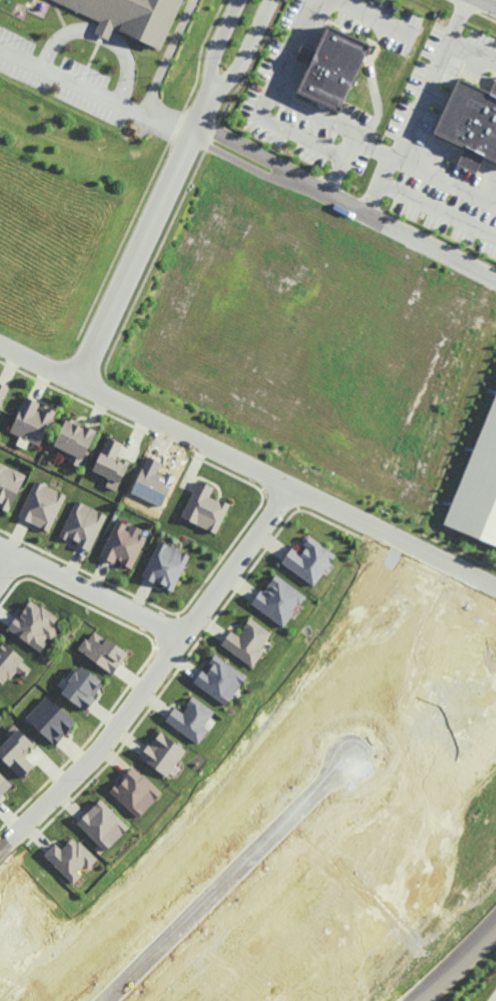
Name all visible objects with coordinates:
road: (485, 4)
building: (130, 16)
road: (374, 16)
road: (99, 40)
road: (216, 44)
road: (296, 48)
road: (247, 50)
road: (473, 50)
road: (170, 55)
building: (330, 68)
road: (96, 87)
road: (265, 103)
road: (417, 107)
building: (470, 124)
road: (248, 146)
road: (347, 146)
road: (242, 161)
road: (443, 181)
road: (438, 207)
road: (396, 230)
road: (143, 238)
building: (2, 392)
building: (32, 421)
building: (75, 440)
building: (111, 463)
road: (247, 467)
building: (9, 485)
building: (479, 486)
building: (42, 505)
building: (205, 506)
building: (83, 525)
building: (123, 546)
building: (308, 559)
building: (165, 566)
road: (9, 569)
road: (92, 589)
building: (279, 601)
building: (35, 625)
building: (247, 640)
building: (103, 651)
building: (11, 664)
road: (155, 675)
building: (220, 680)
building: (82, 687)
building: (192, 717)
building: (51, 720)
building: (17, 753)
building: (163, 755)
building: (4, 785)
building: (135, 793)
building: (102, 826)
building: (70, 858)
road: (220, 885)
road: (457, 964)

